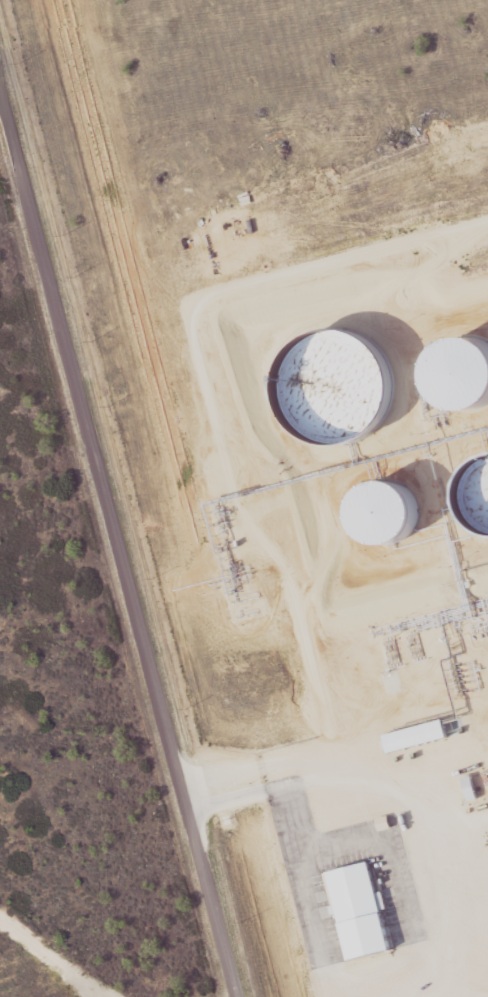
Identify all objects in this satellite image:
building: (469, 223)
building: (265, 250)
road: (121, 565)
road: (338, 769)

